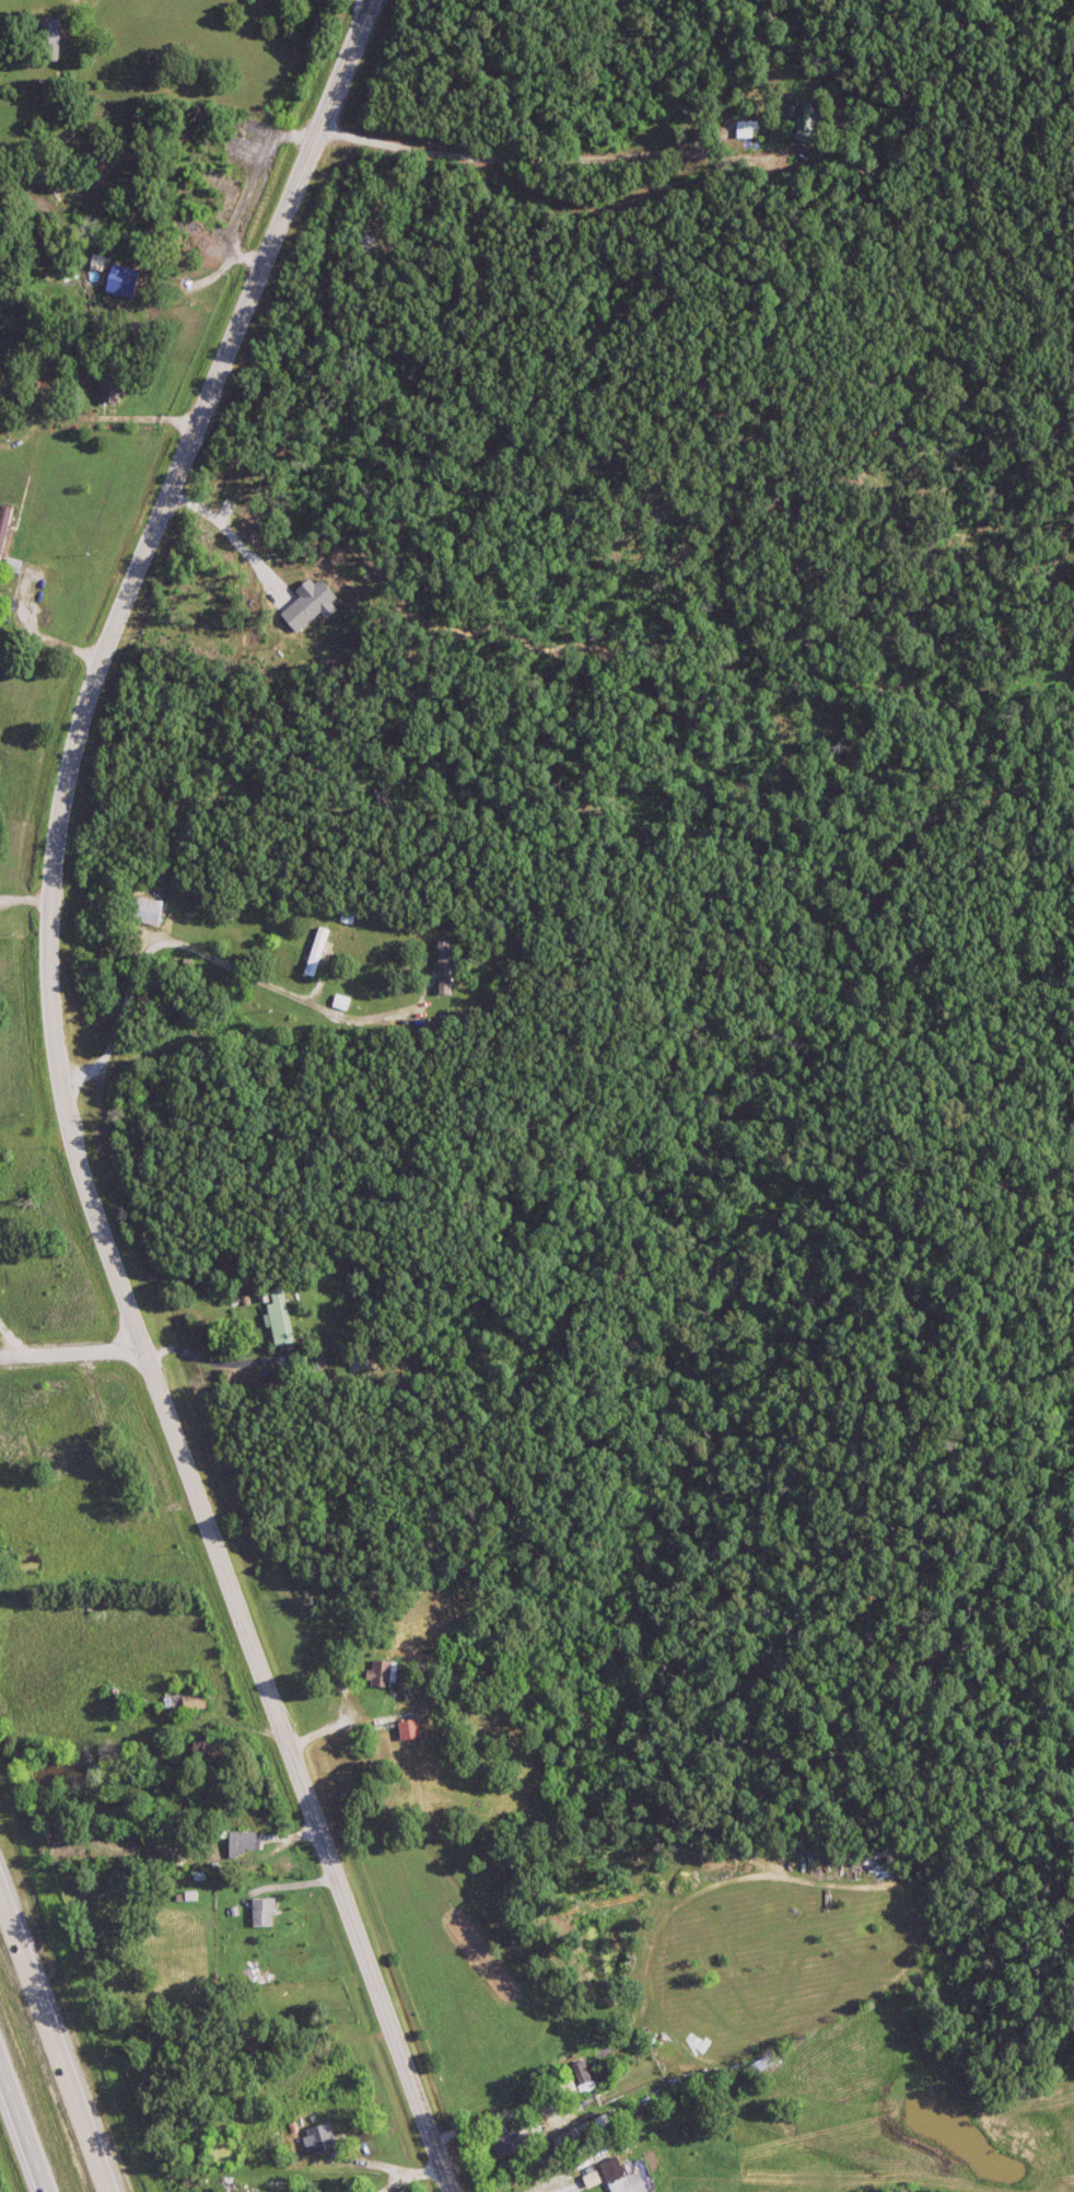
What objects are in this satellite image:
building: (51, 28)
building: (745, 130)
building: (366, 243)
building: (114, 392)
road: (220, 530)
road: (43, 642)
building: (142, 912)
road: (189, 951)
building: (315, 953)
road: (61, 1099)
building: (277, 1318)
road: (60, 1344)
building: (378, 1673)
building: (184, 1702)
road: (336, 1726)
building: (407, 1729)
building: (242, 1845)
building: (261, 1912)
road: (57, 2031)
building: (582, 2076)
road: (21, 2132)
building: (318, 2139)
building: (506, 2147)
building: (619, 2178)
road: (567, 2189)

